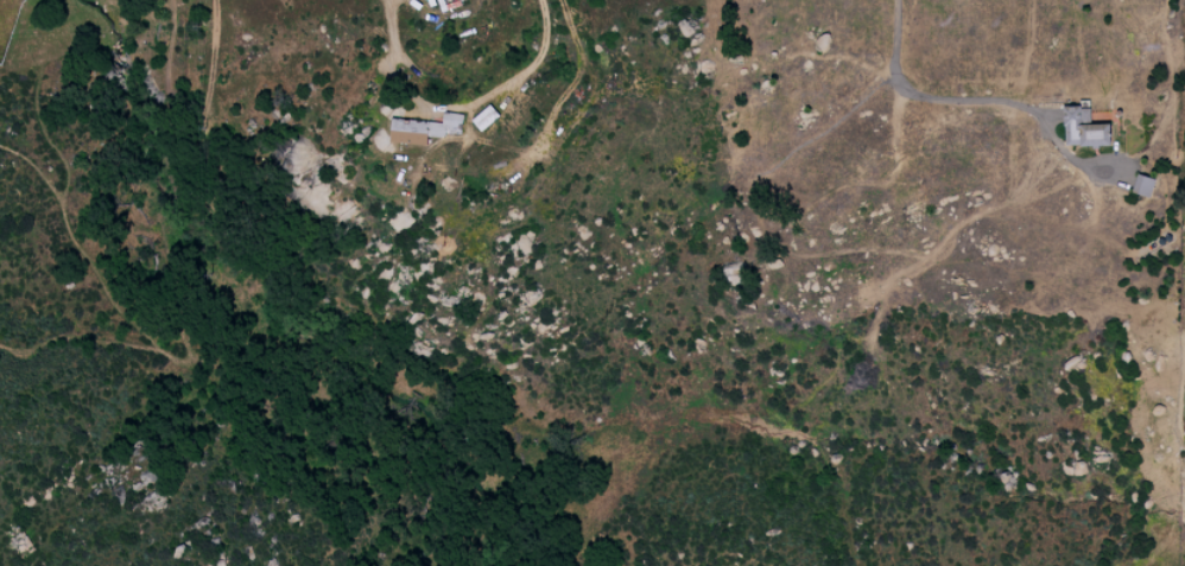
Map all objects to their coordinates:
road: (930, 95)
road: (458, 104)
building: (484, 117)
building: (1083, 127)
building: (424, 128)
building: (1142, 185)

